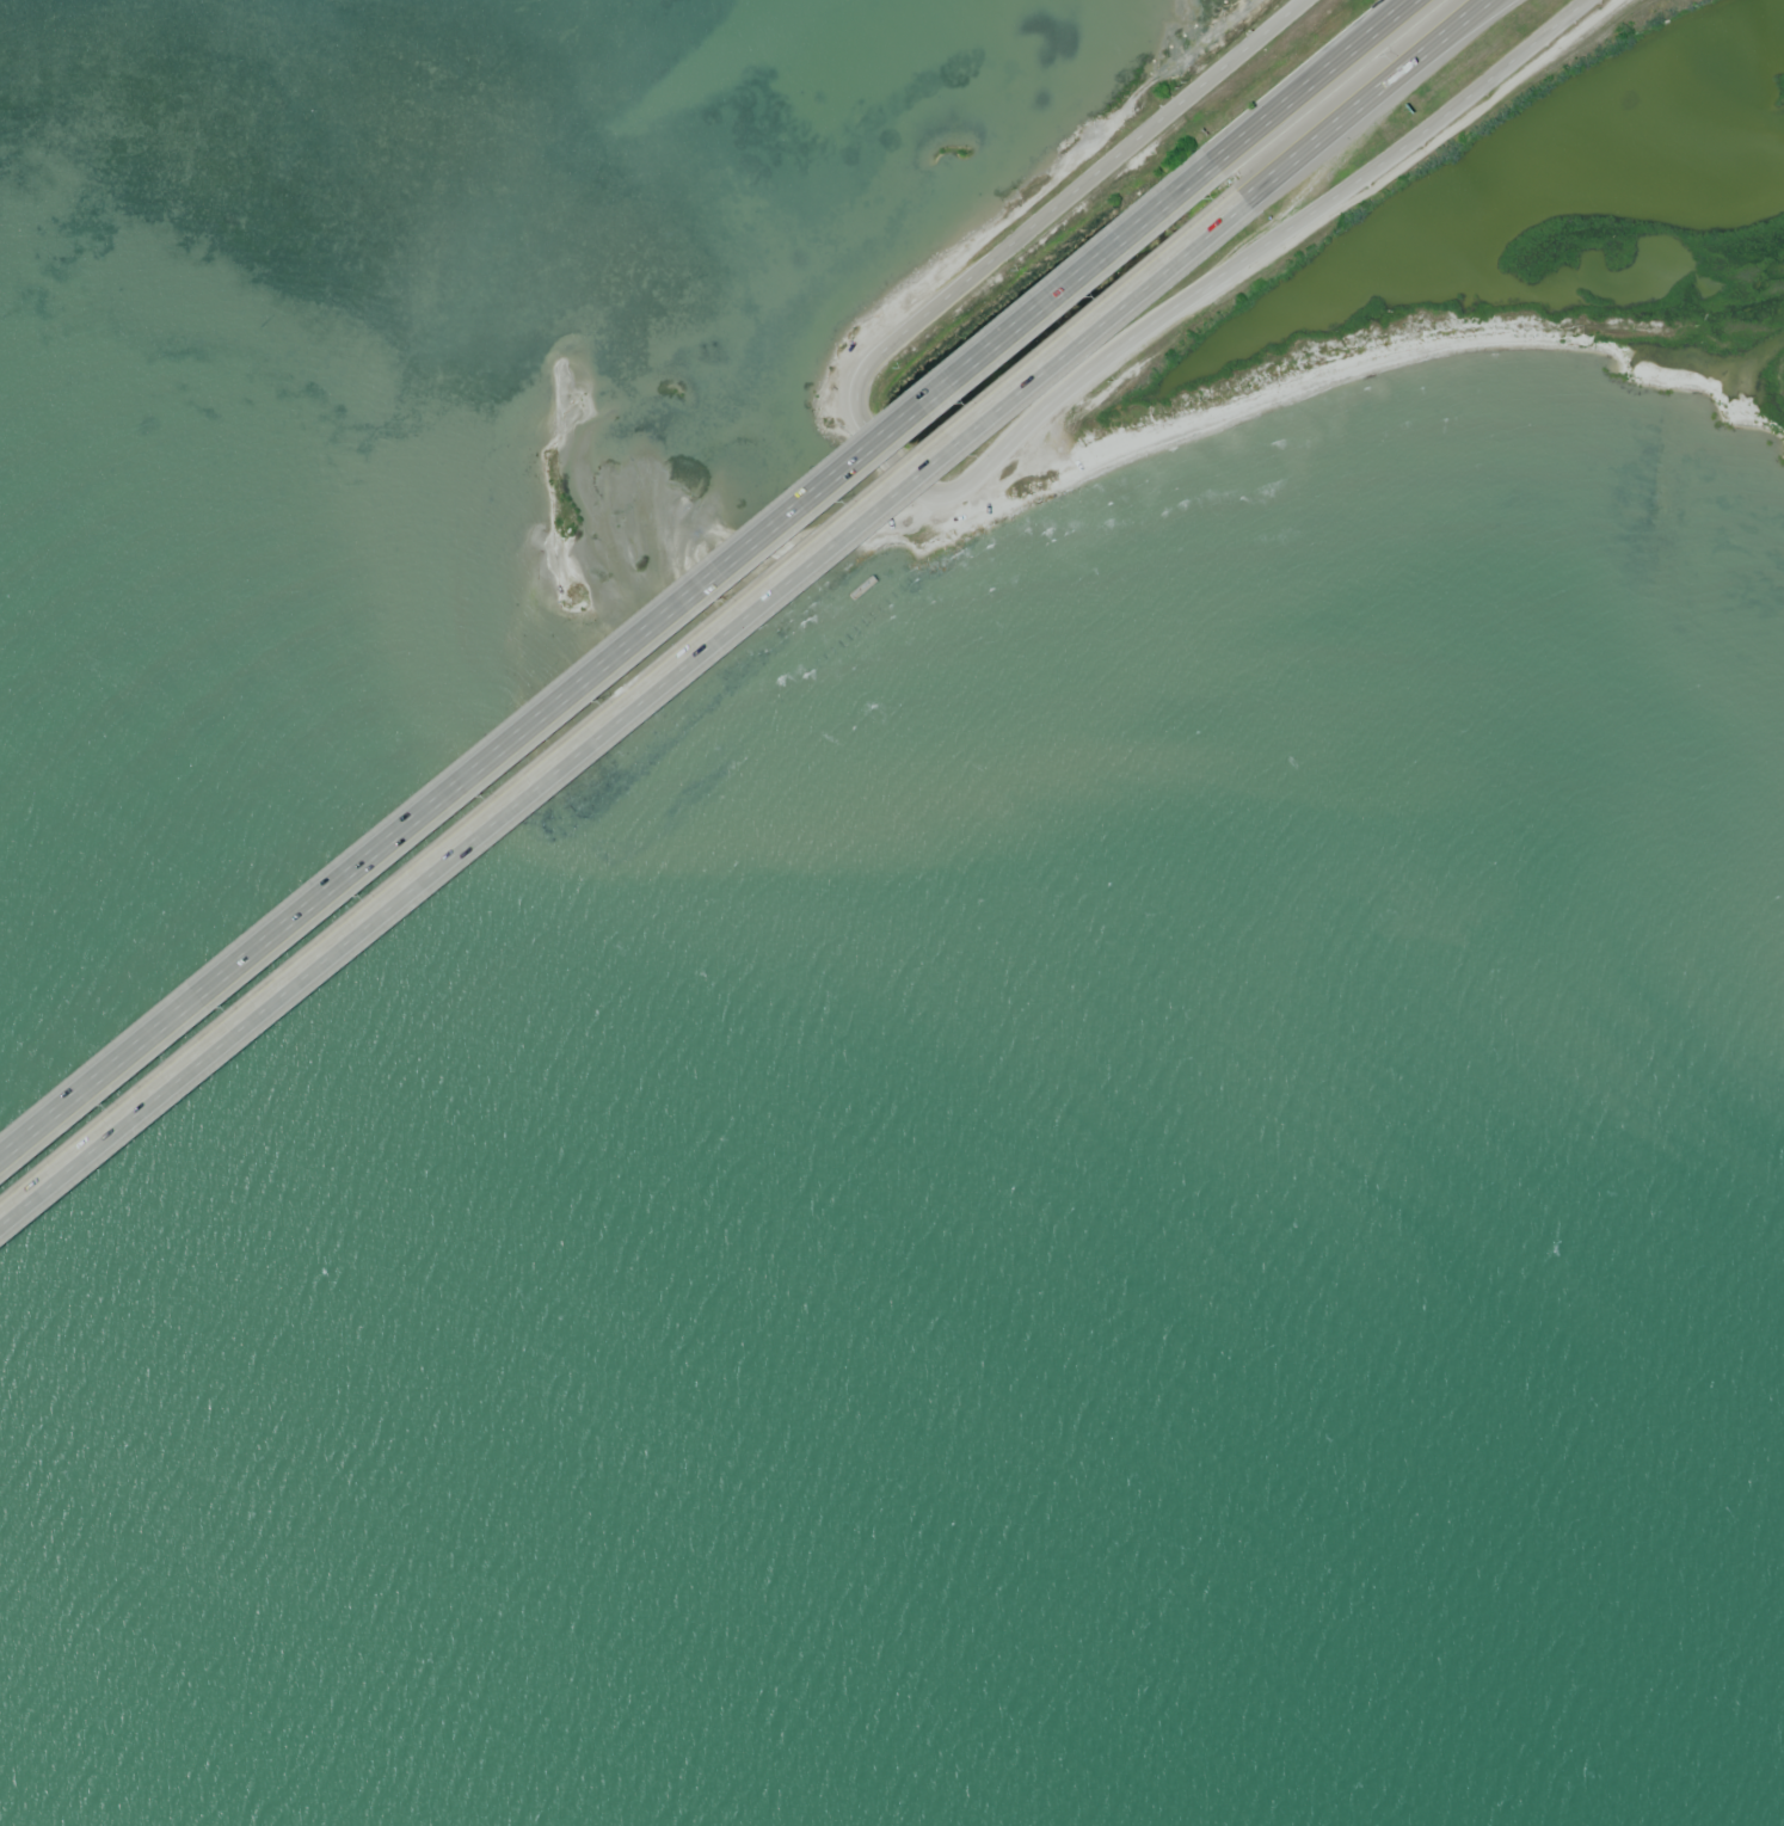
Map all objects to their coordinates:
railway: (1657, 2)
road: (1423, 57)
road: (1315, 78)
road: (1360, 99)
road: (1094, 177)
road: (1341, 192)
park: (1556, 241)
road: (942, 496)
road: (610, 664)
road: (620, 714)

